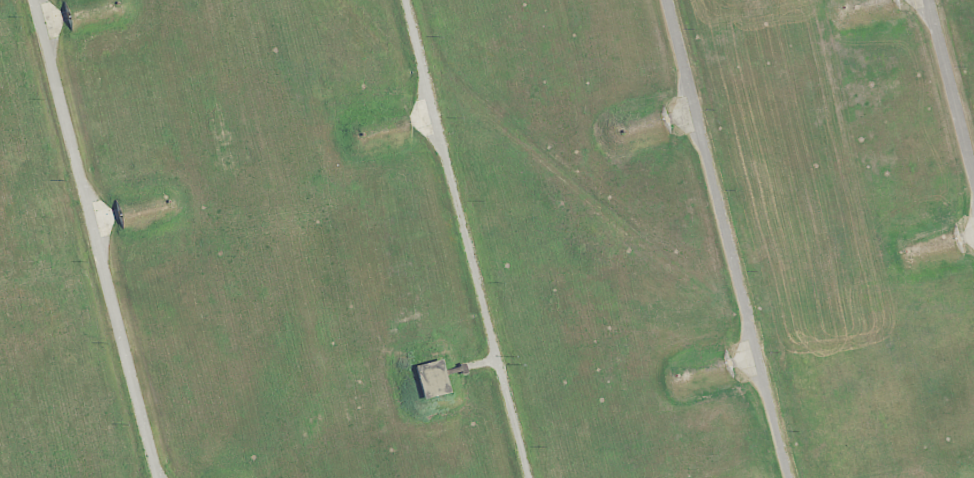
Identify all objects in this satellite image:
road: (951, 88)
road: (96, 239)
road: (467, 239)
road: (729, 239)
building: (429, 378)

